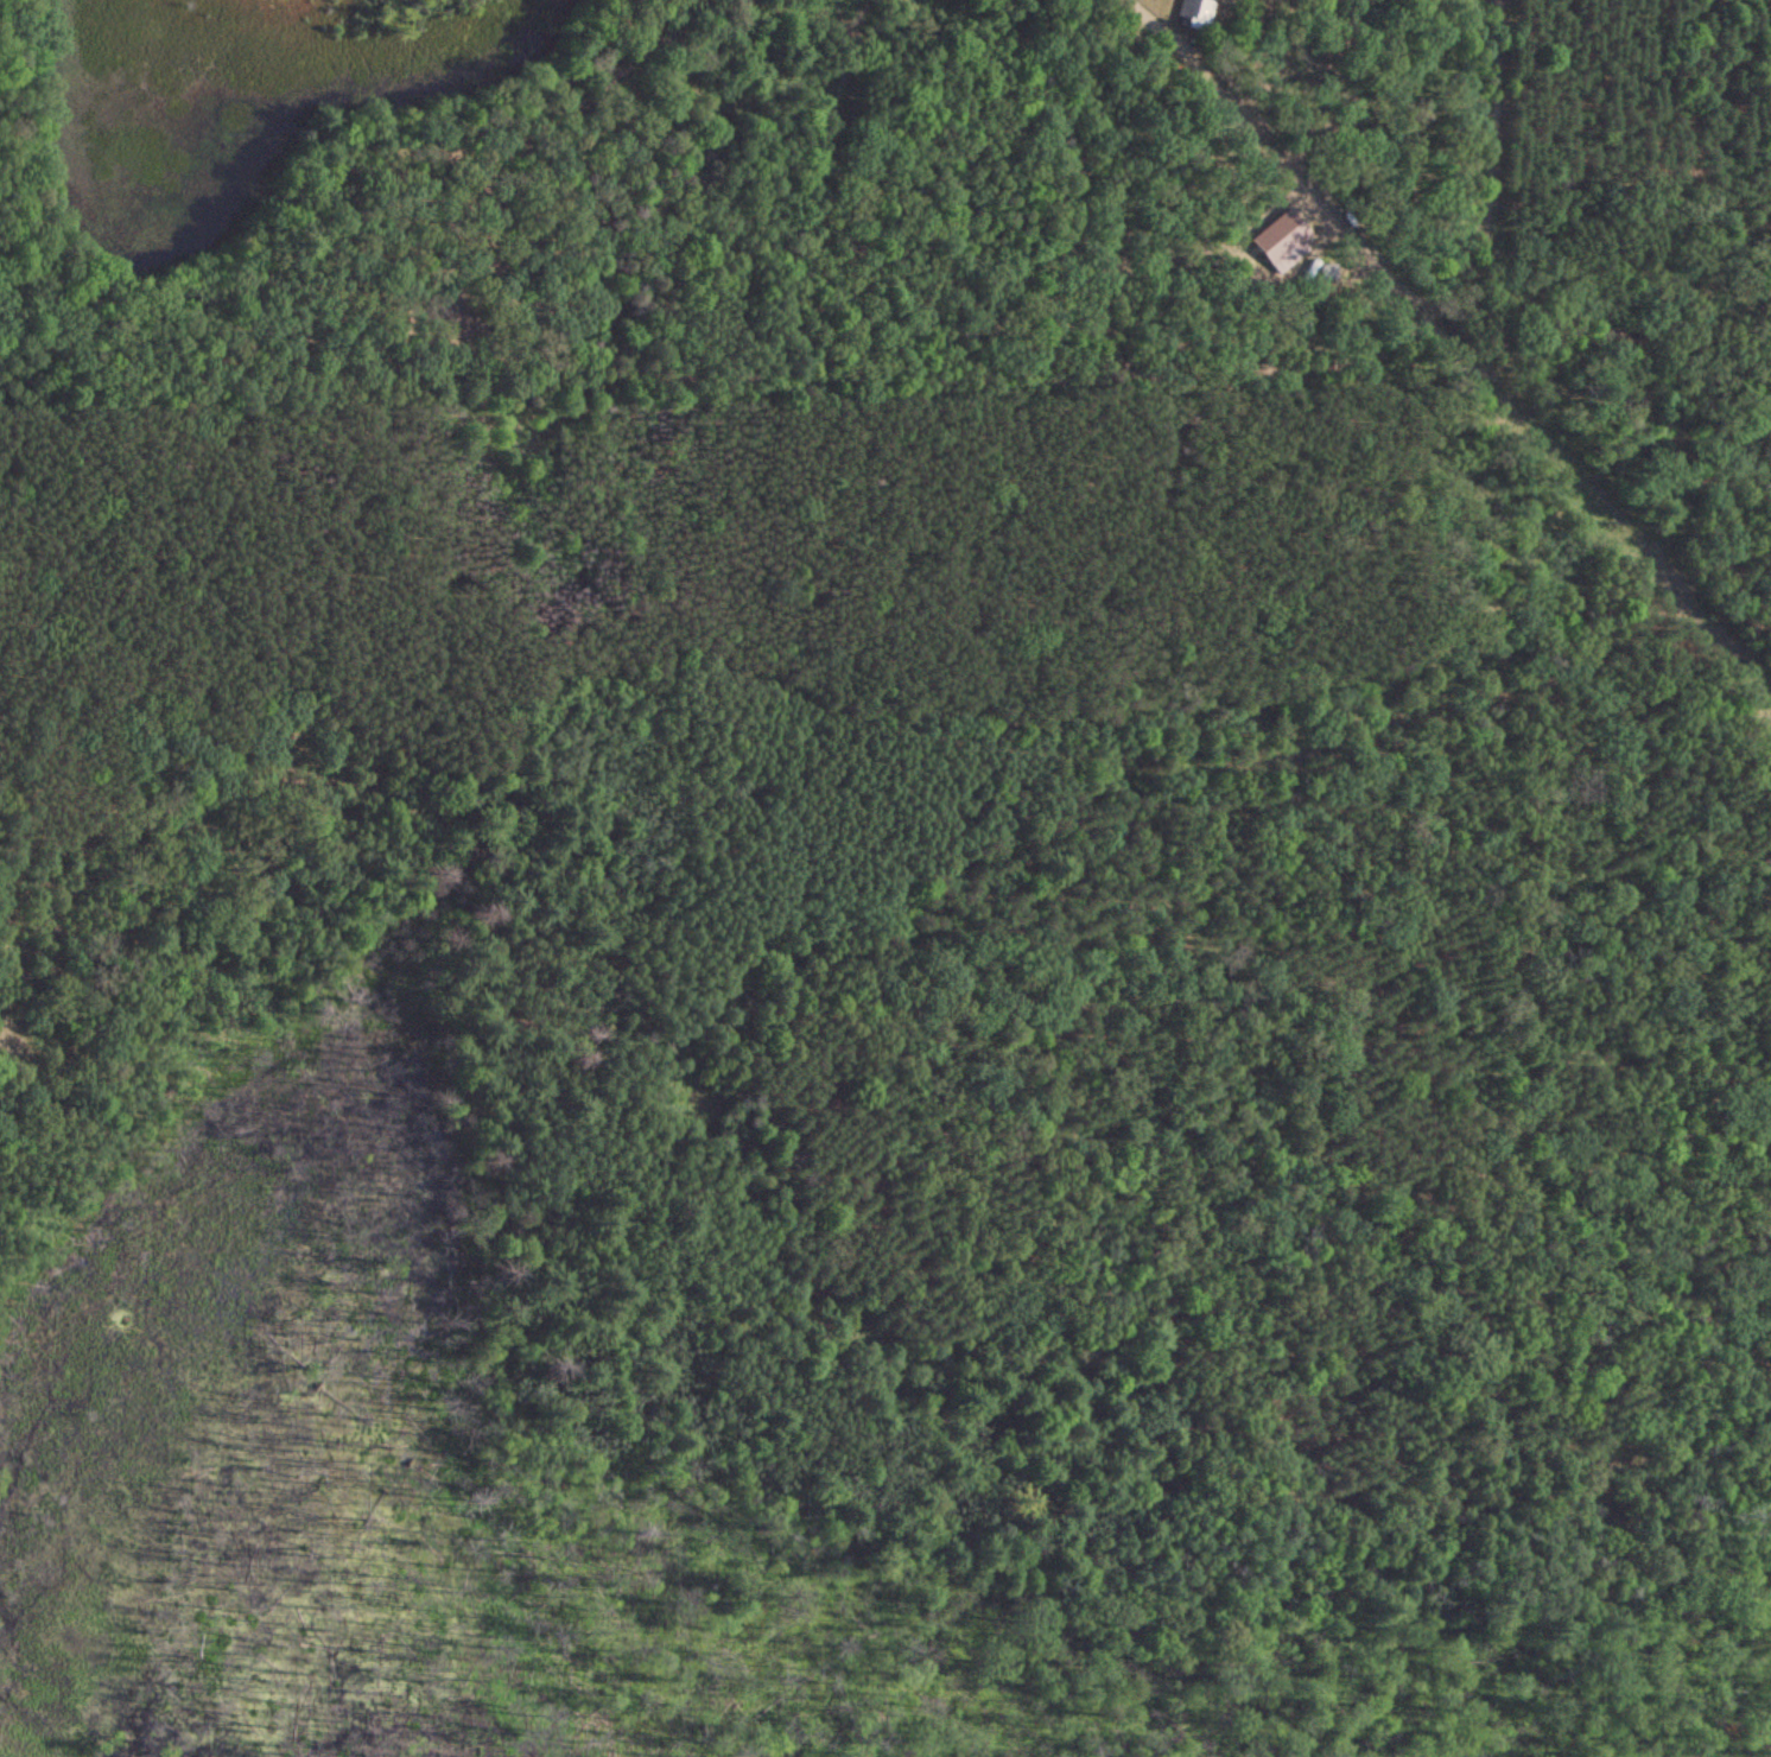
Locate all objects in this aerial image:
building: (1183, 13)
road: (1199, 50)

